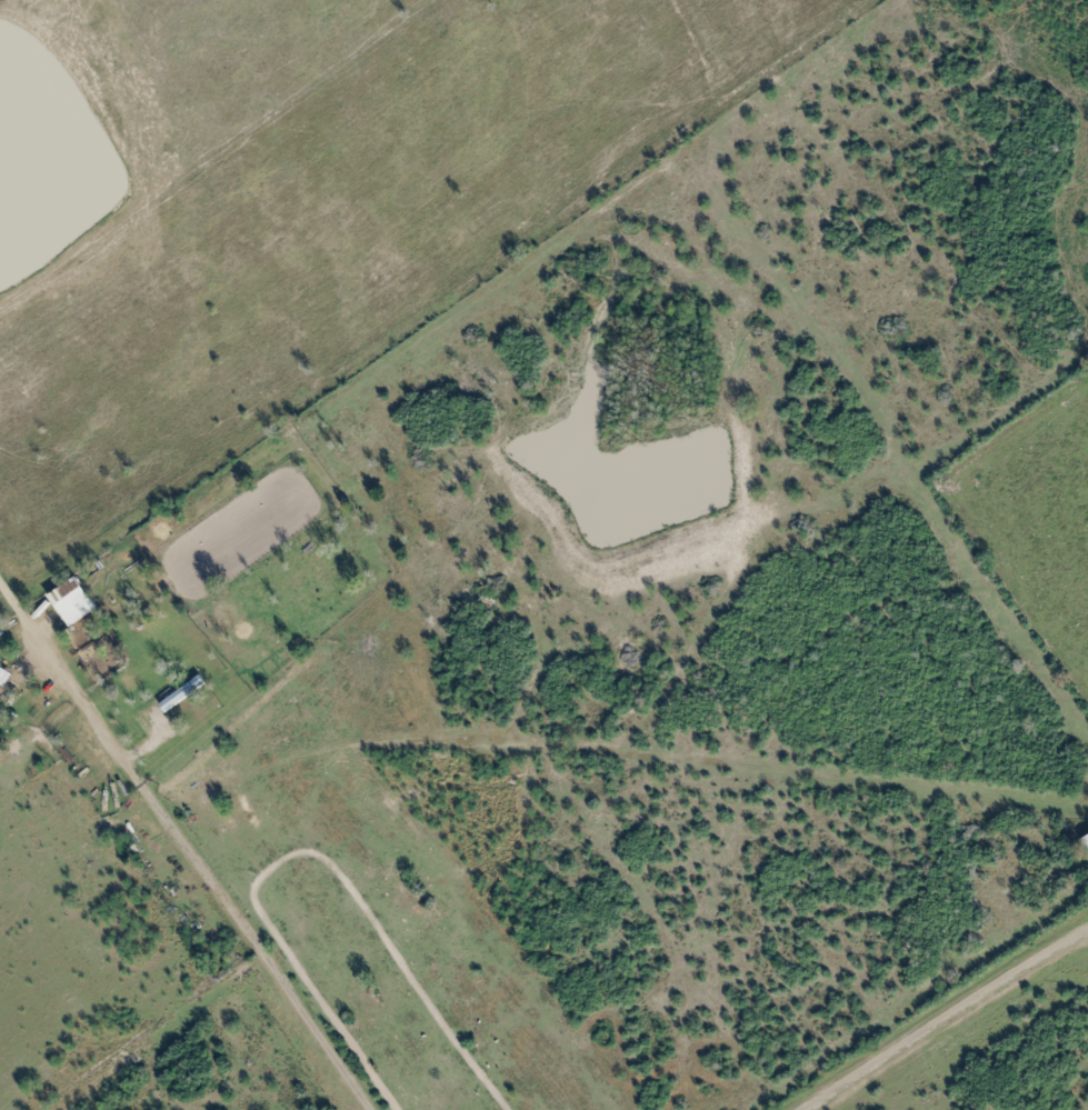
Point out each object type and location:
building: (74, 602)
building: (183, 693)
road: (188, 838)
building: (1087, 841)
road: (946, 1017)

